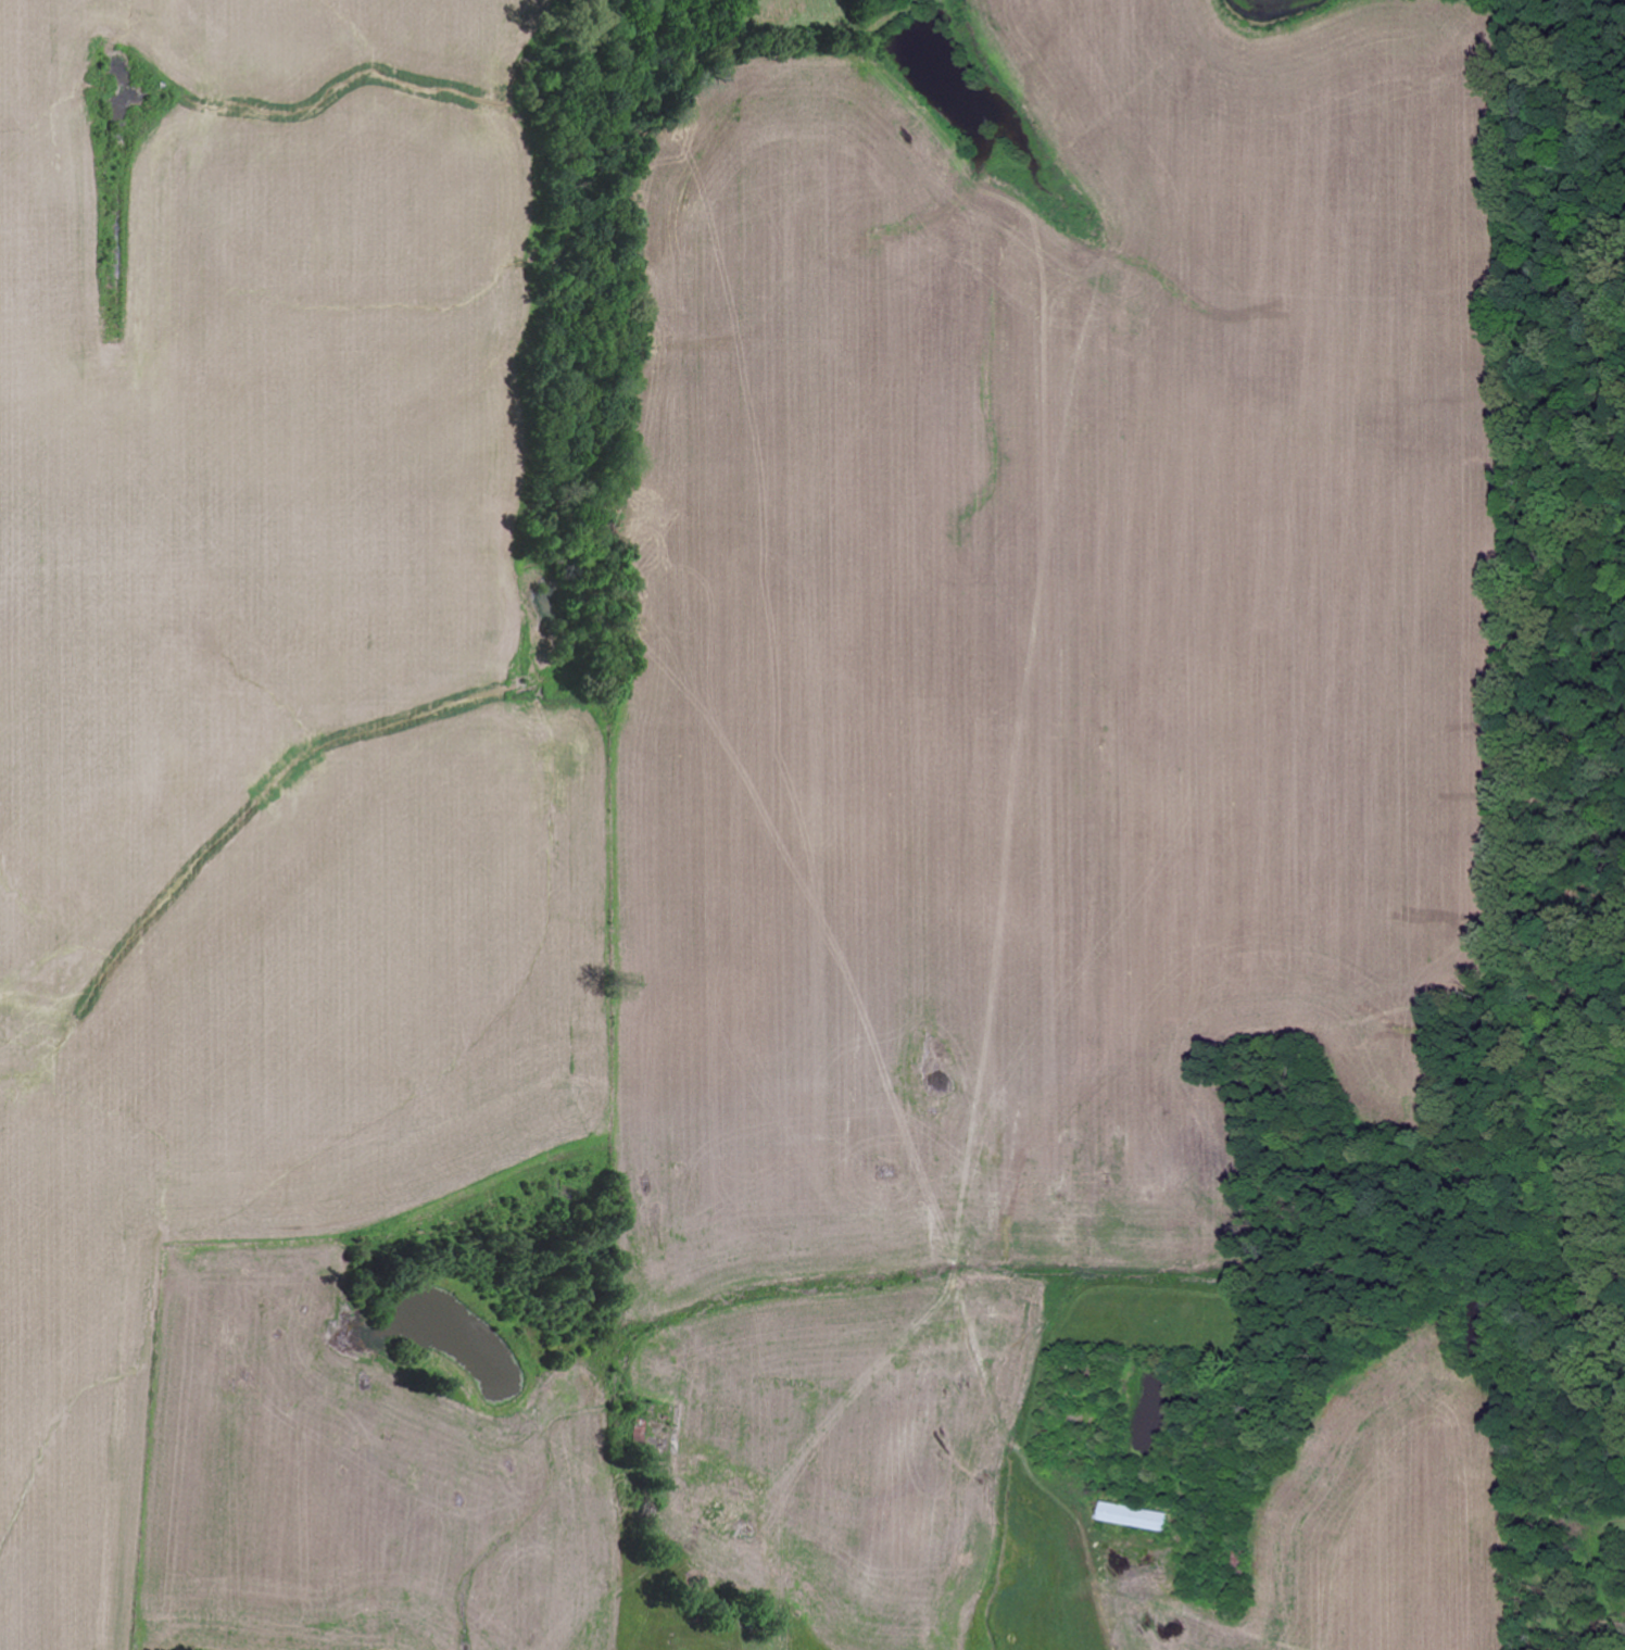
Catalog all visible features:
building: (1131, 1516)

